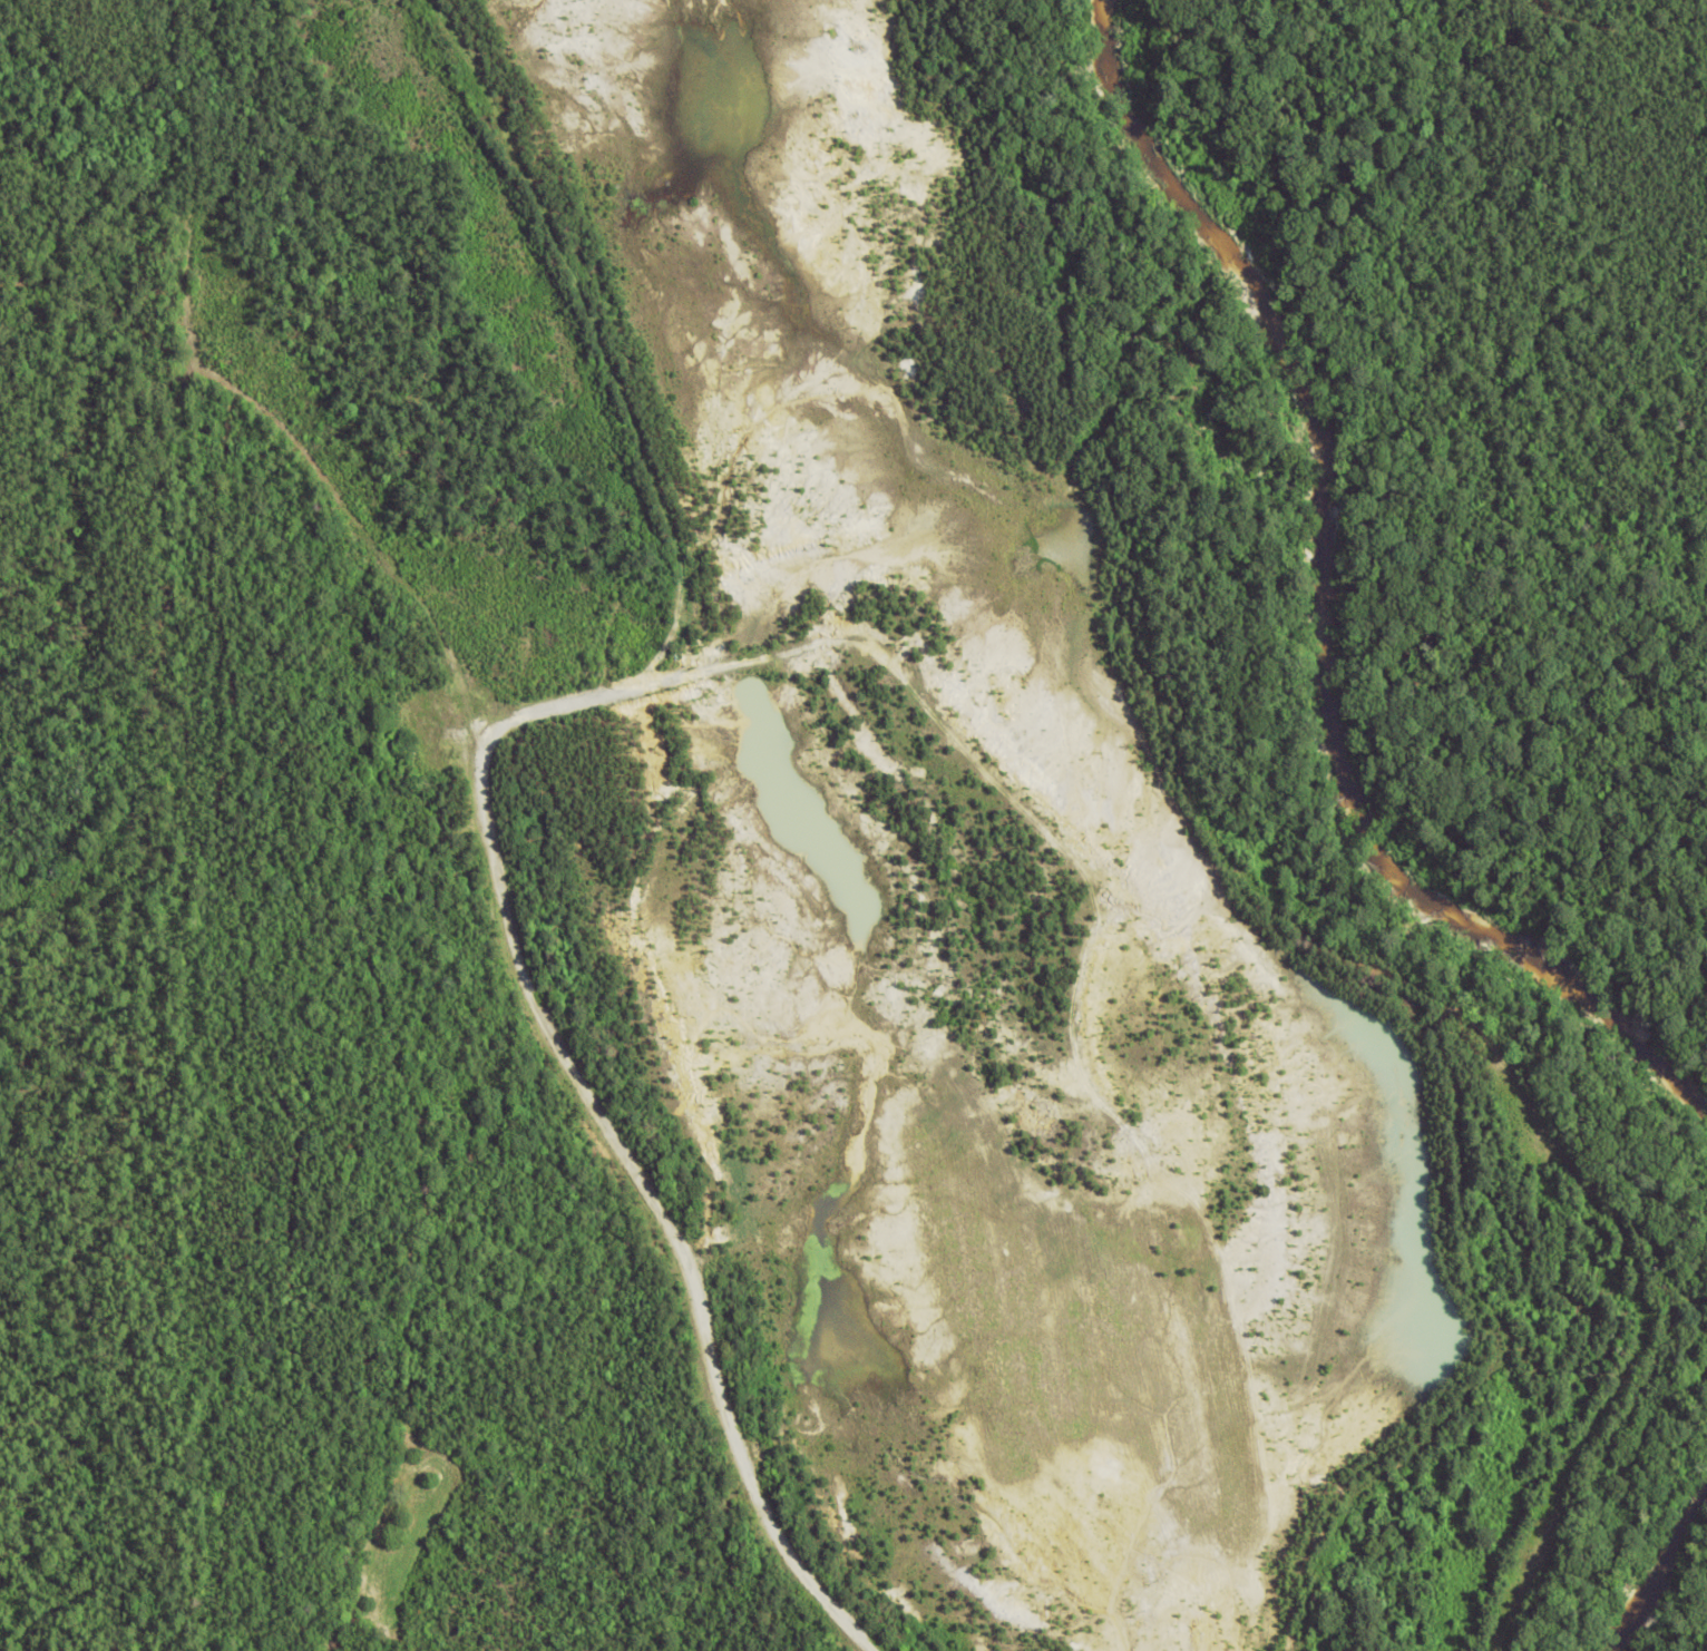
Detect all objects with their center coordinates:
road: (843, 470)
river: (1321, 606)
road: (582, 983)
river: (1661, 1564)

